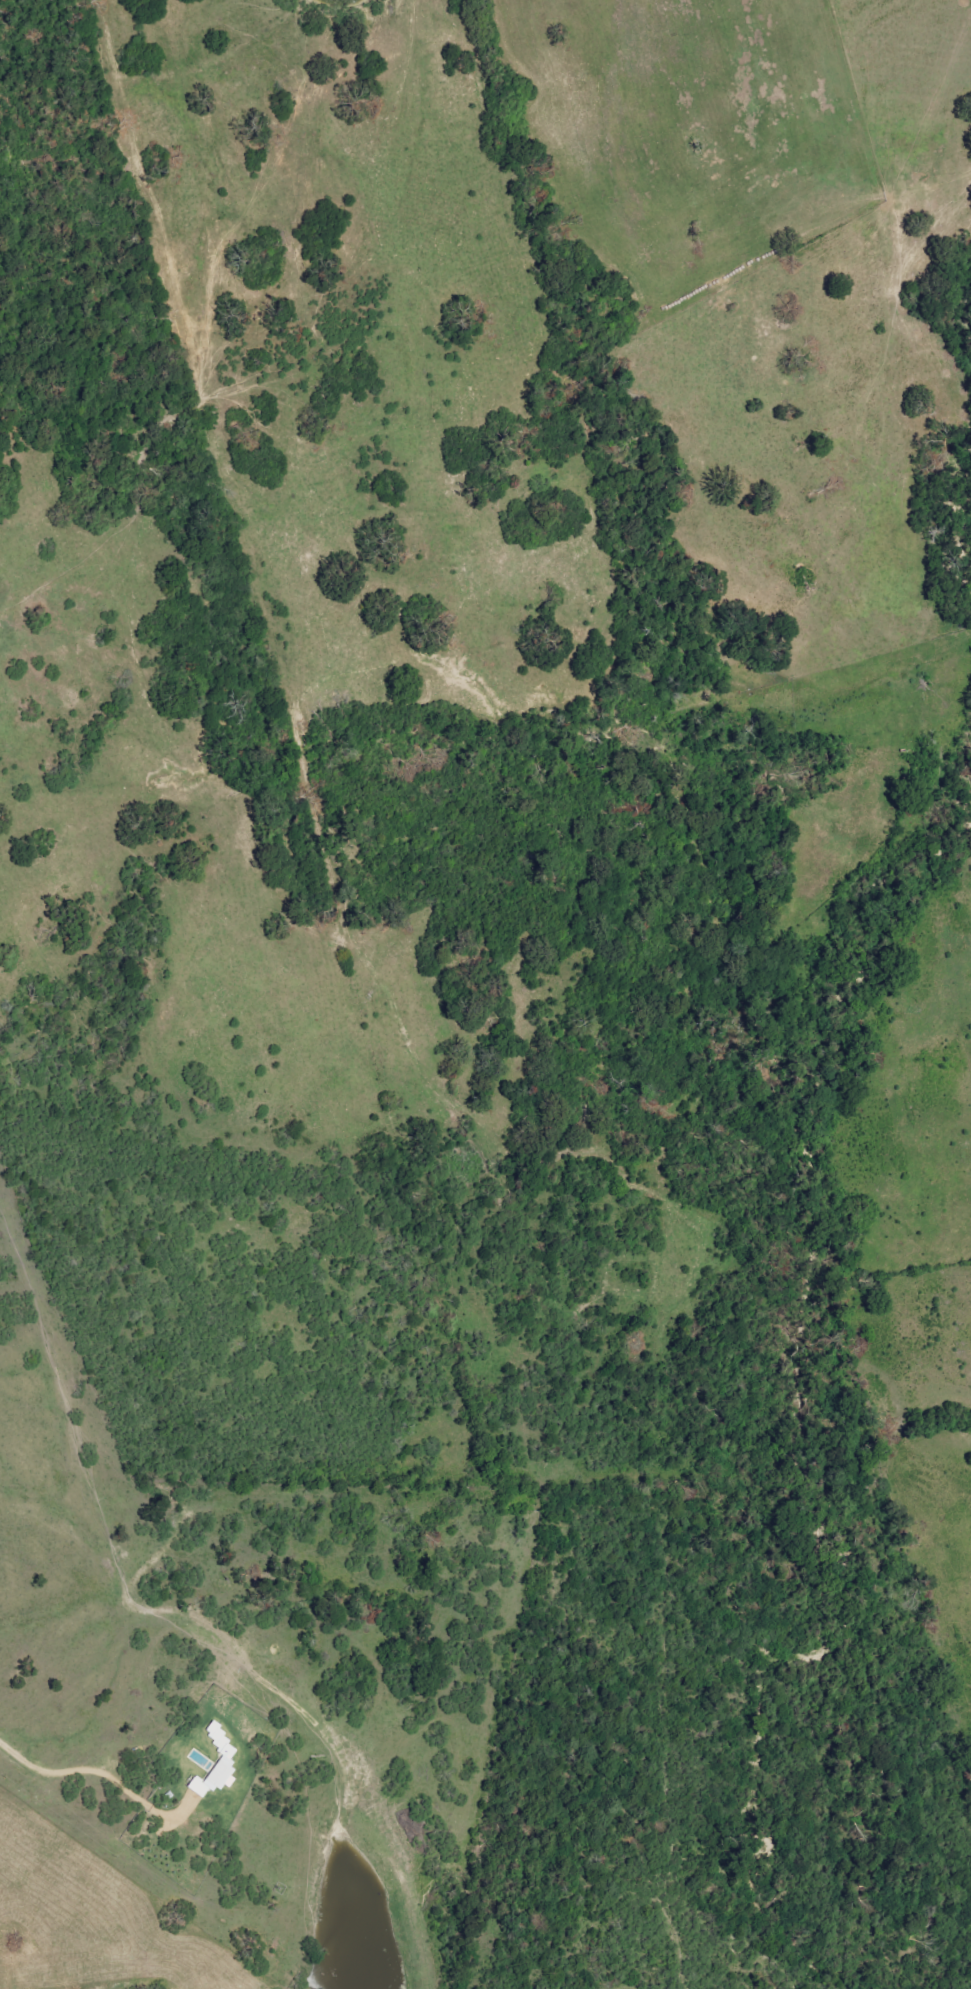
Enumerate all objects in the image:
building: (218, 1765)

